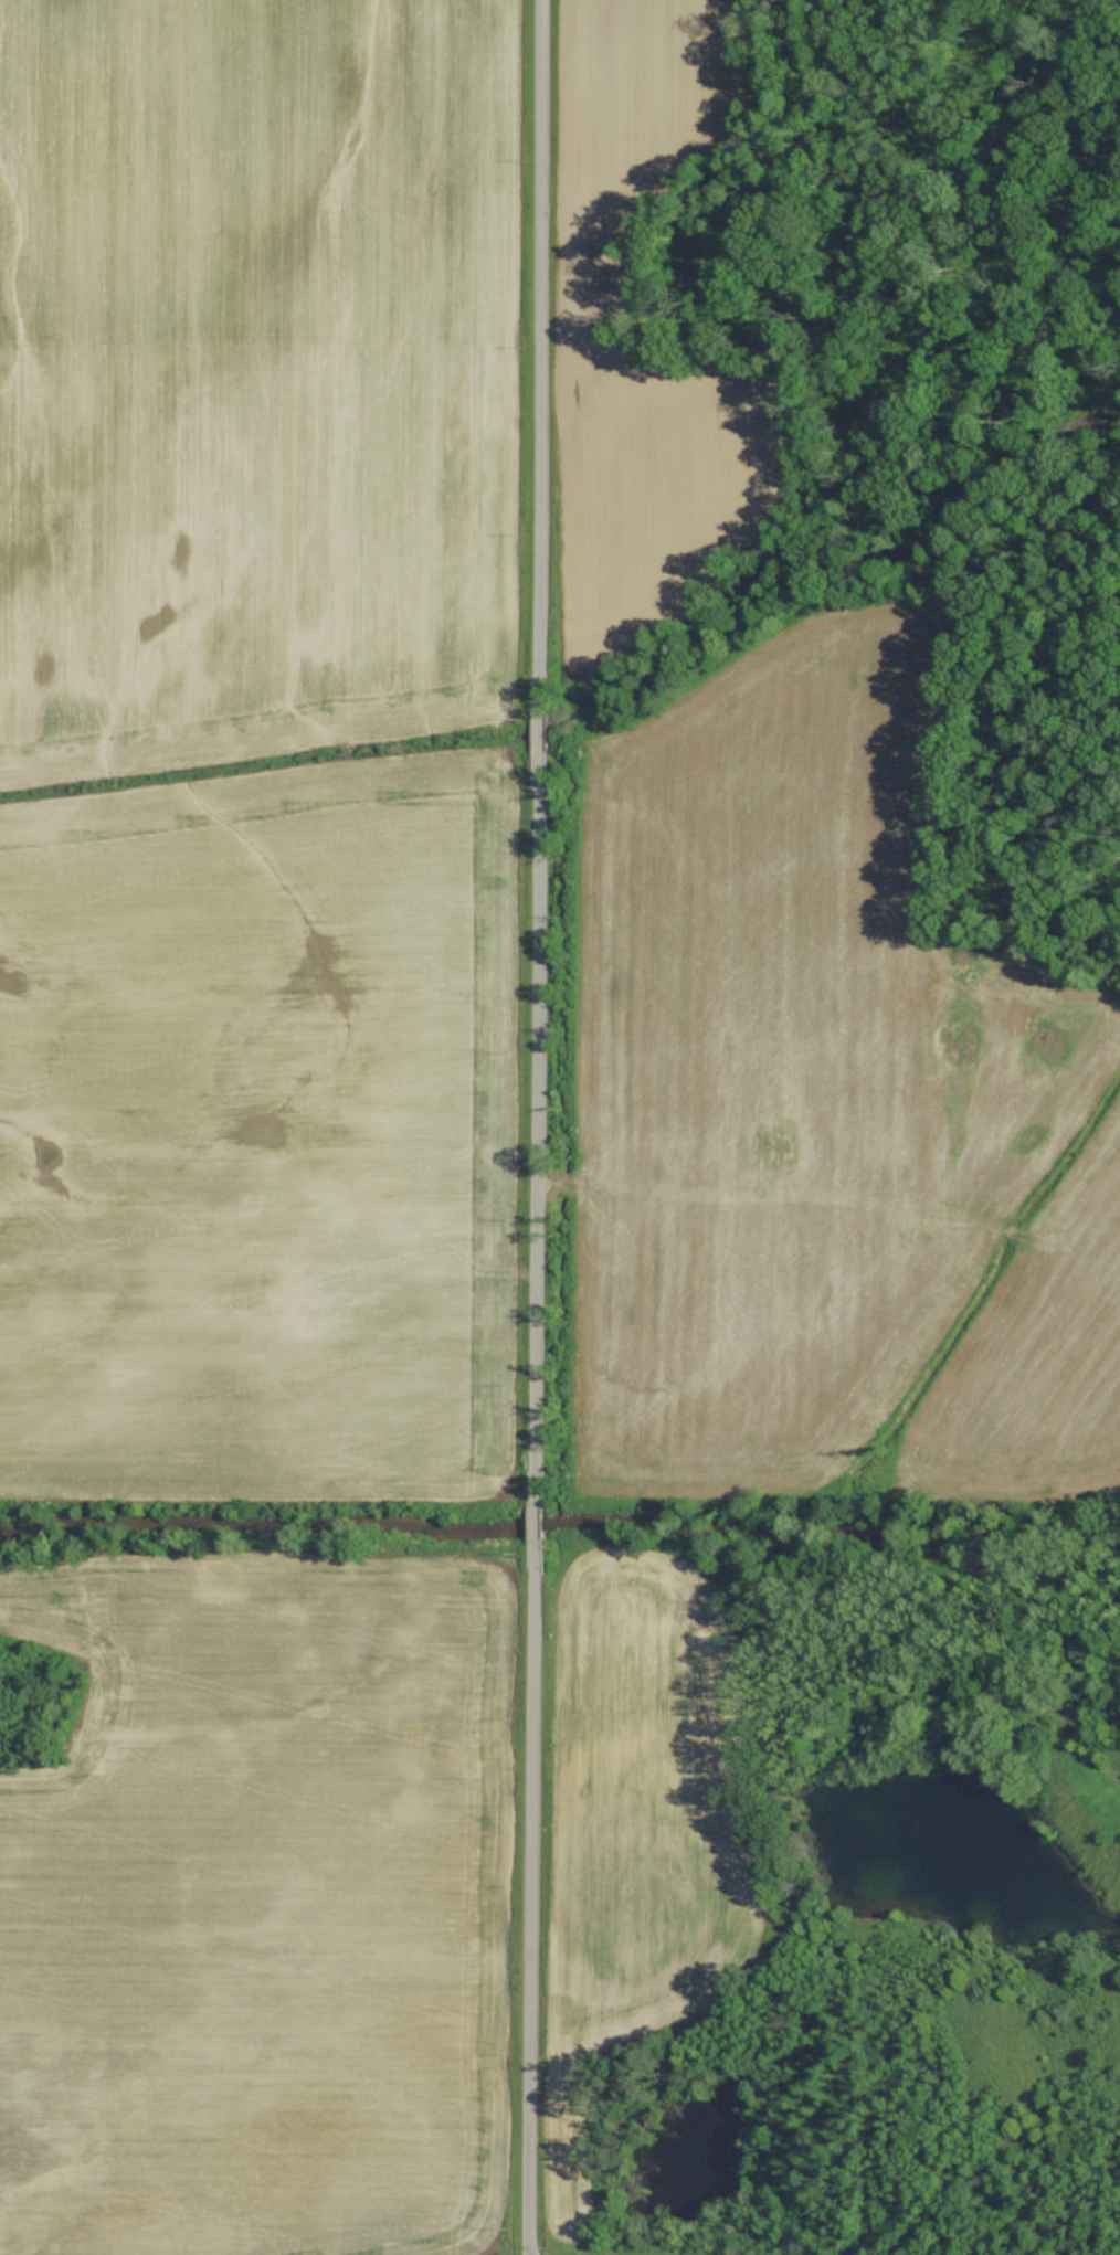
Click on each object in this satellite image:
road: (542, 1127)

